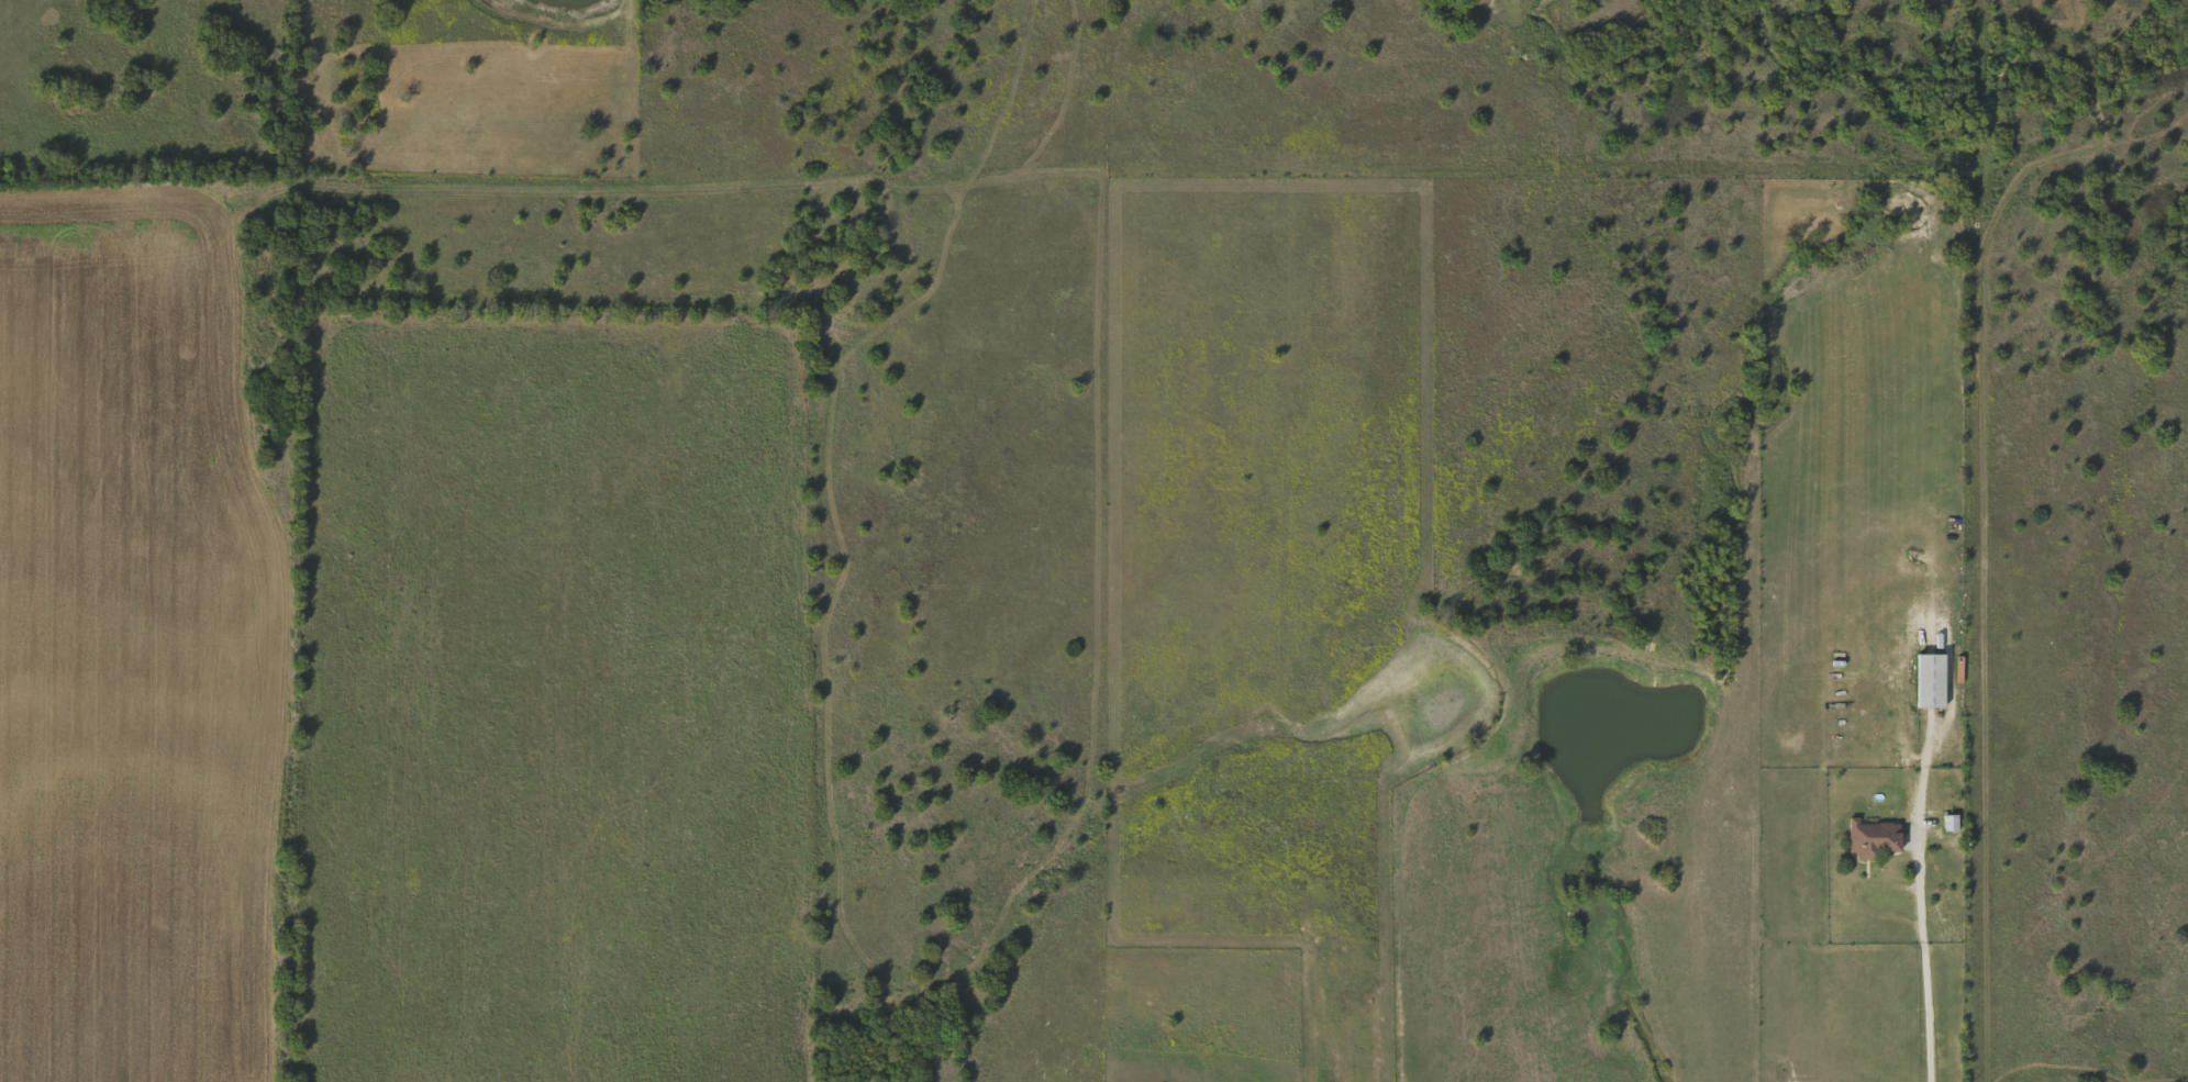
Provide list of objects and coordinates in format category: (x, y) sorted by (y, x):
building: (1932, 679)
building: (1874, 836)
road: (1930, 962)

